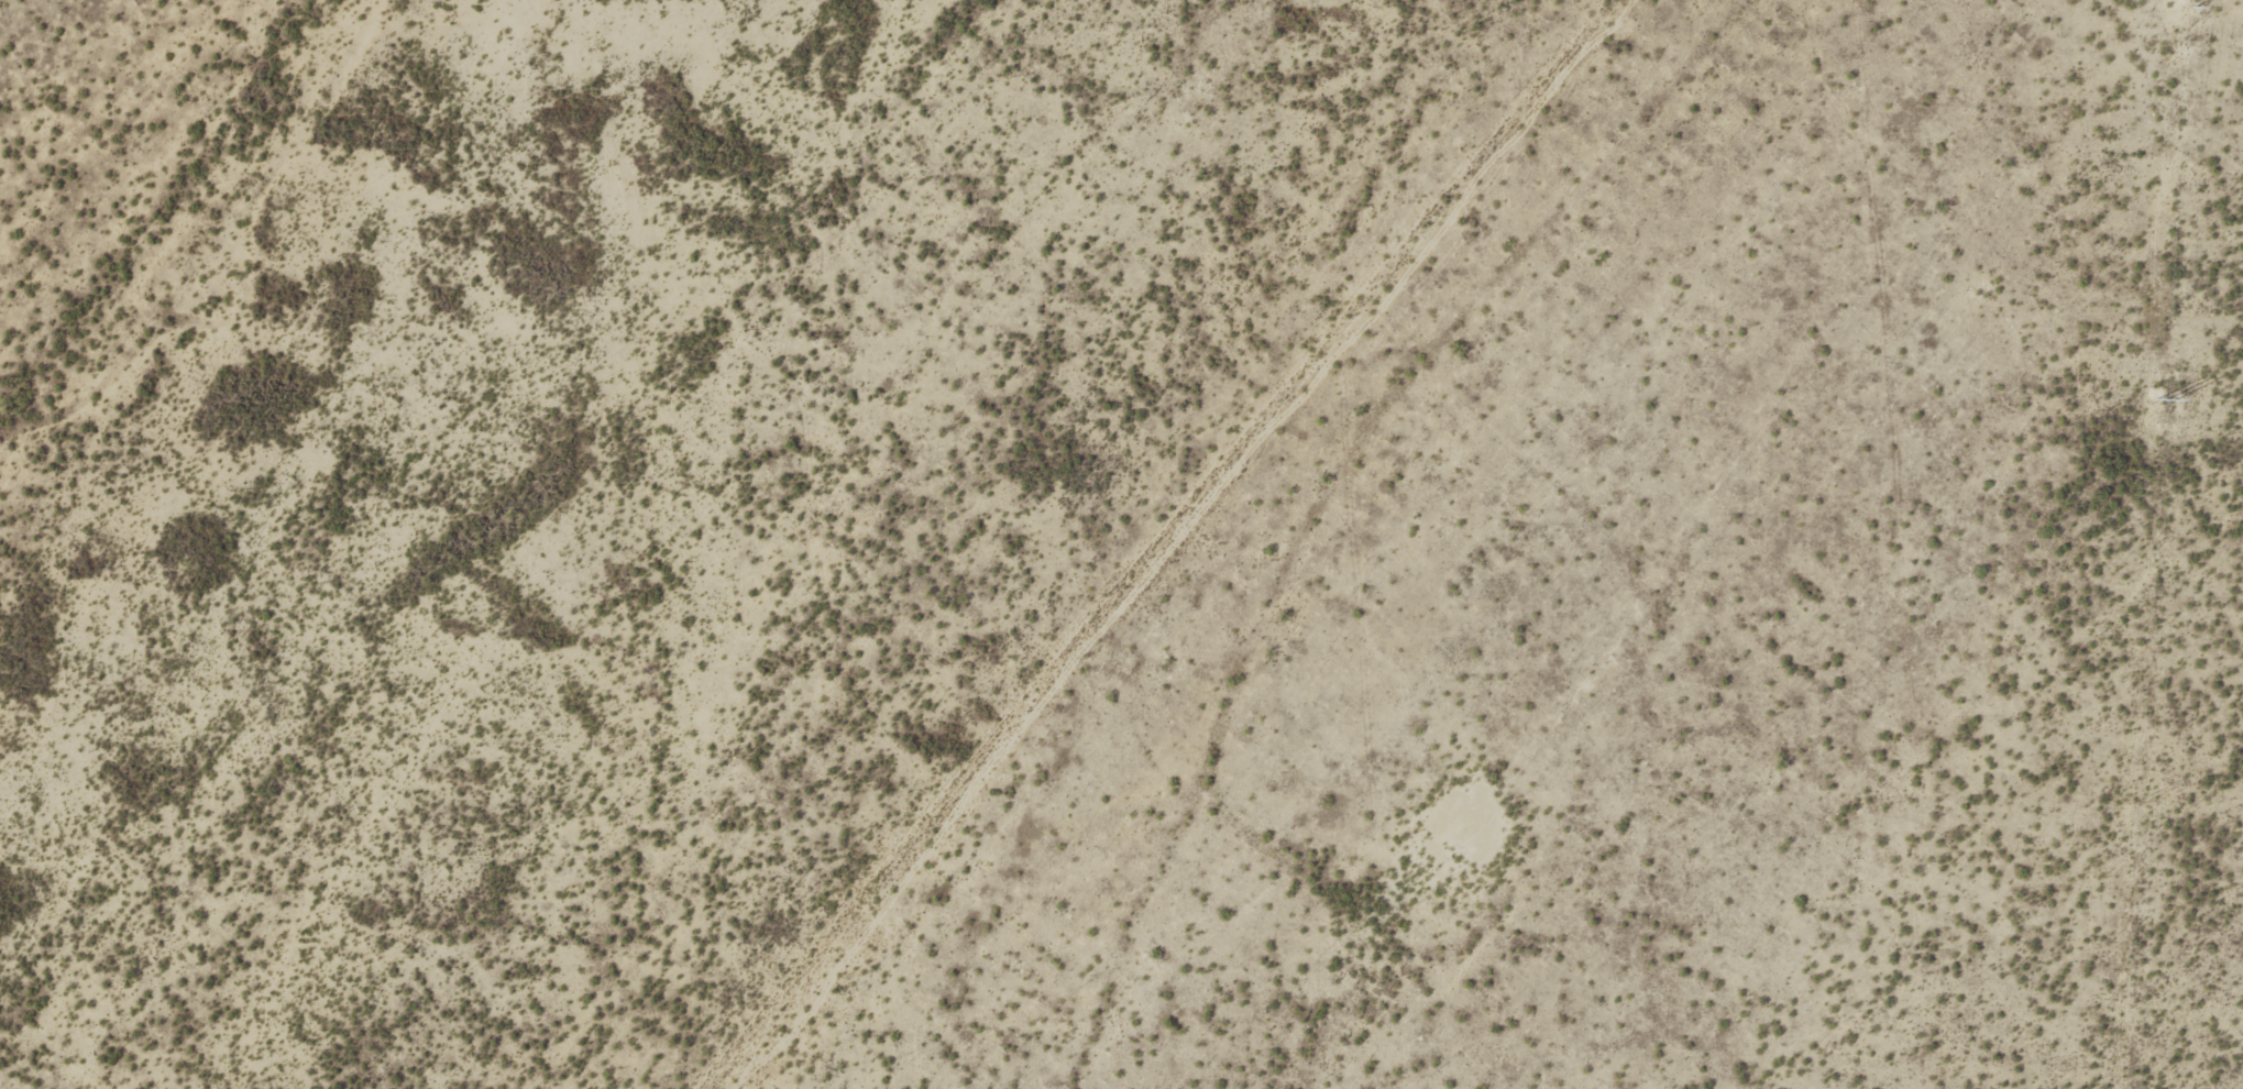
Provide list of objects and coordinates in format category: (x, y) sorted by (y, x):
power tower: (2165, 400)
power tower: (2141, 803)

